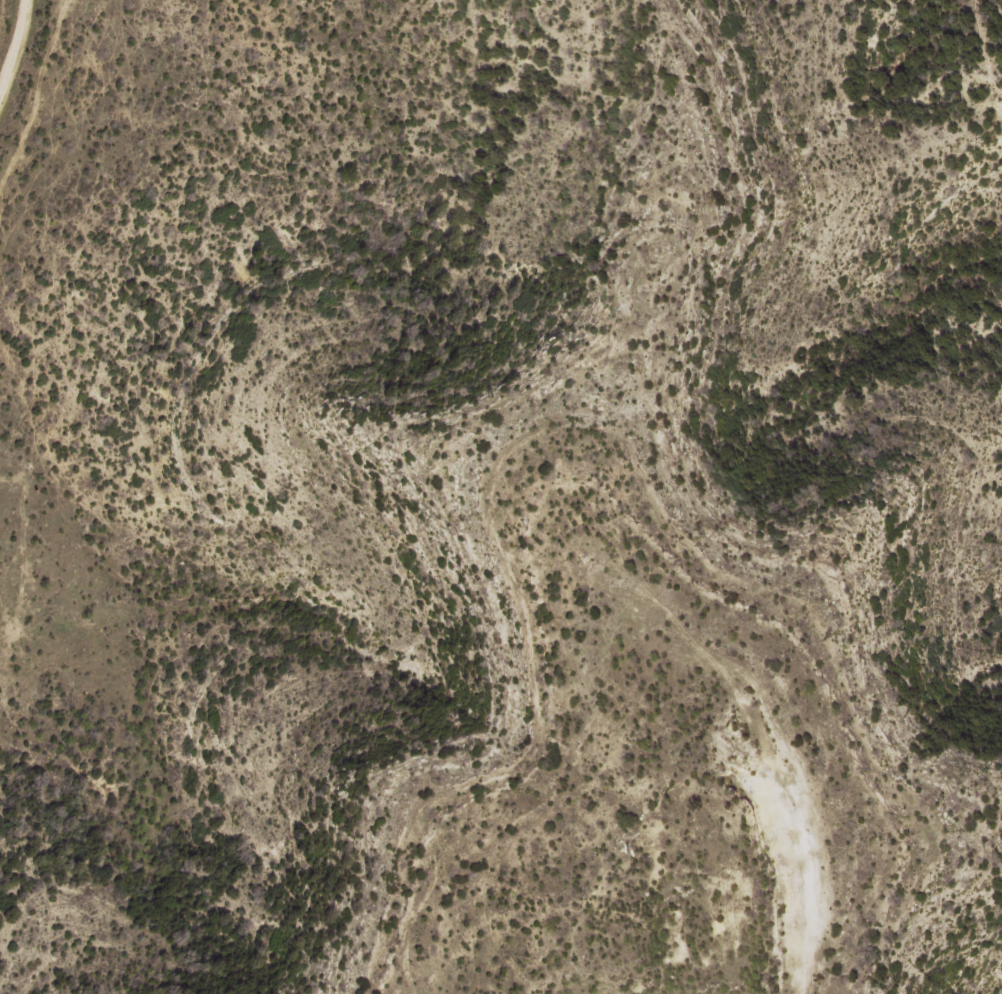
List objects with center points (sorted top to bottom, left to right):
road: (17, 51)

